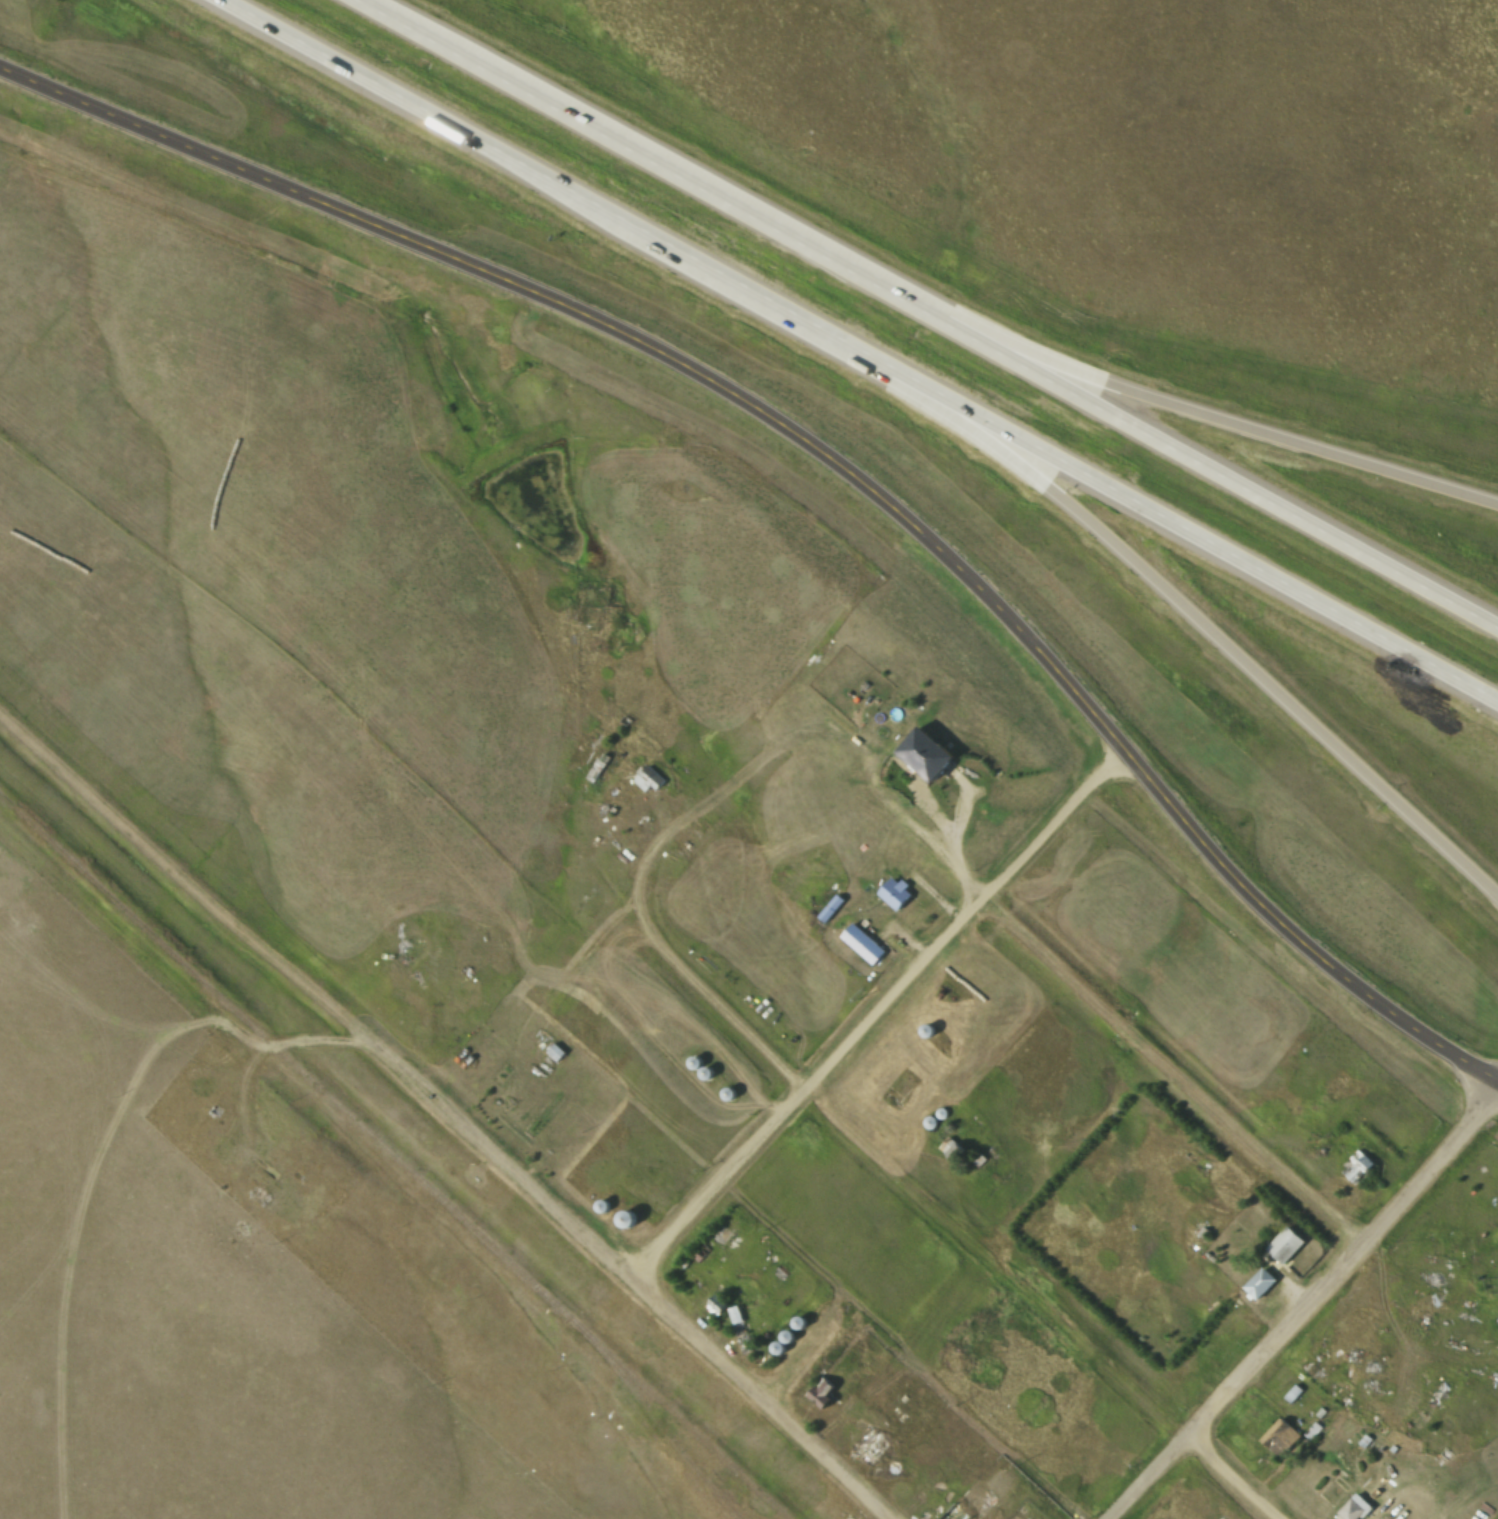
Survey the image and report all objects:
road: (924, 311)
road: (857, 354)
road: (1181, 411)
road: (831, 461)
road: (1154, 583)
building: (928, 754)
building: (597, 770)
building: (648, 780)
building: (894, 895)
building: (832, 908)
building: (863, 945)
road: (679, 971)
railway: (221, 1008)
road: (878, 1018)
road: (680, 1030)
building: (929, 1031)
road: (1124, 1032)
building: (696, 1063)
building: (707, 1073)
building: (898, 1089)
building: (729, 1094)
building: (942, 1113)
road: (445, 1115)
building: (930, 1123)
building: (514, 1127)
building: (953, 1149)
building: (1359, 1169)
building: (606, 1207)
building: (630, 1220)
building: (1288, 1247)
building: (1261, 1284)
road: (1044, 1302)
building: (719, 1307)
road: (1309, 1312)
building: (803, 1323)
building: (743, 1331)
building: (790, 1338)
building: (781, 1350)
railway: (572, 1361)
railway: (611, 1364)
building: (824, 1393)
building: (1293, 1397)
building: (1280, 1438)
railway: (697, 1454)
building: (1356, 1508)
building: (956, 1514)

